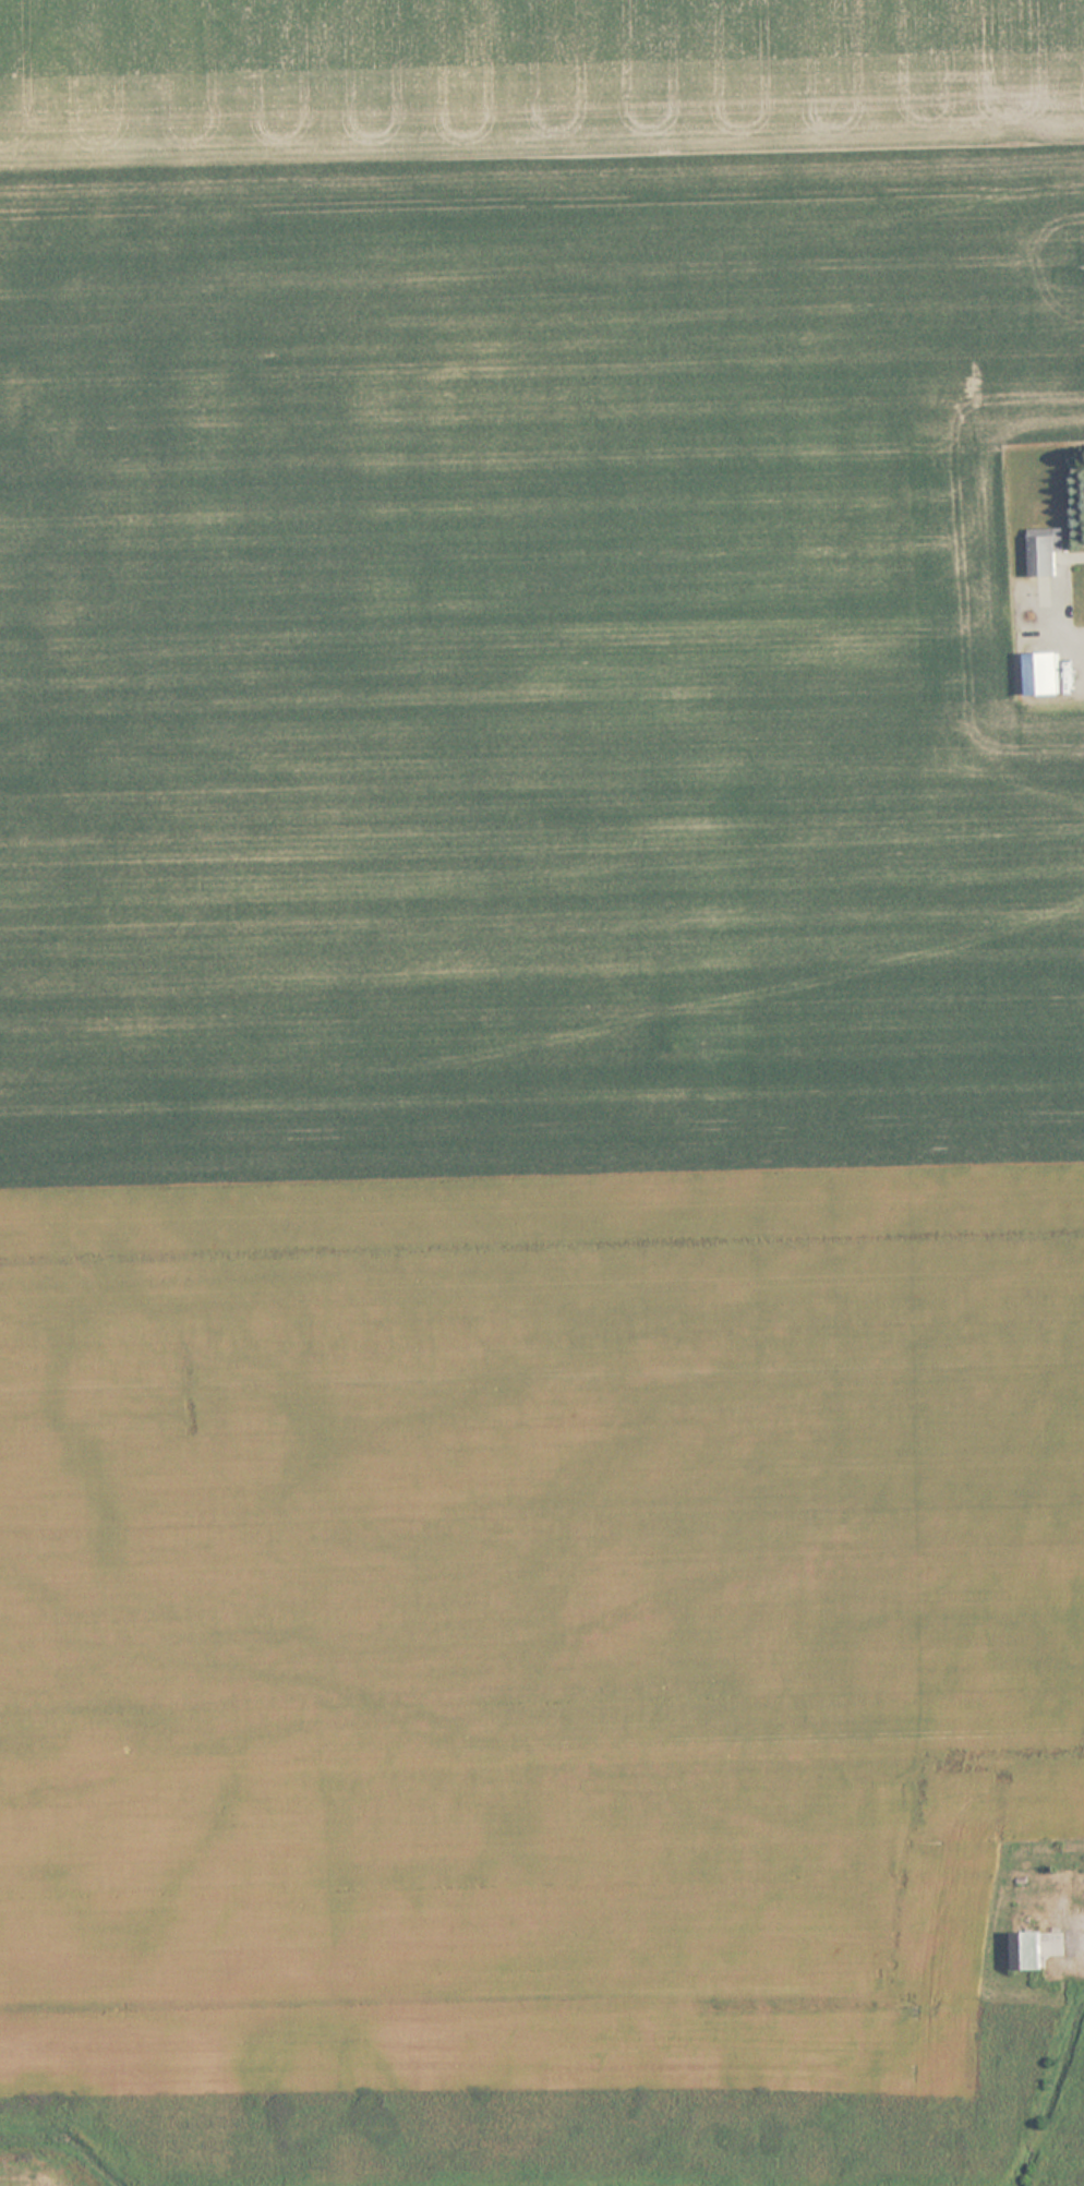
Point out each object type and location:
building: (1045, 550)
building: (1044, 672)
building: (1028, 1950)

